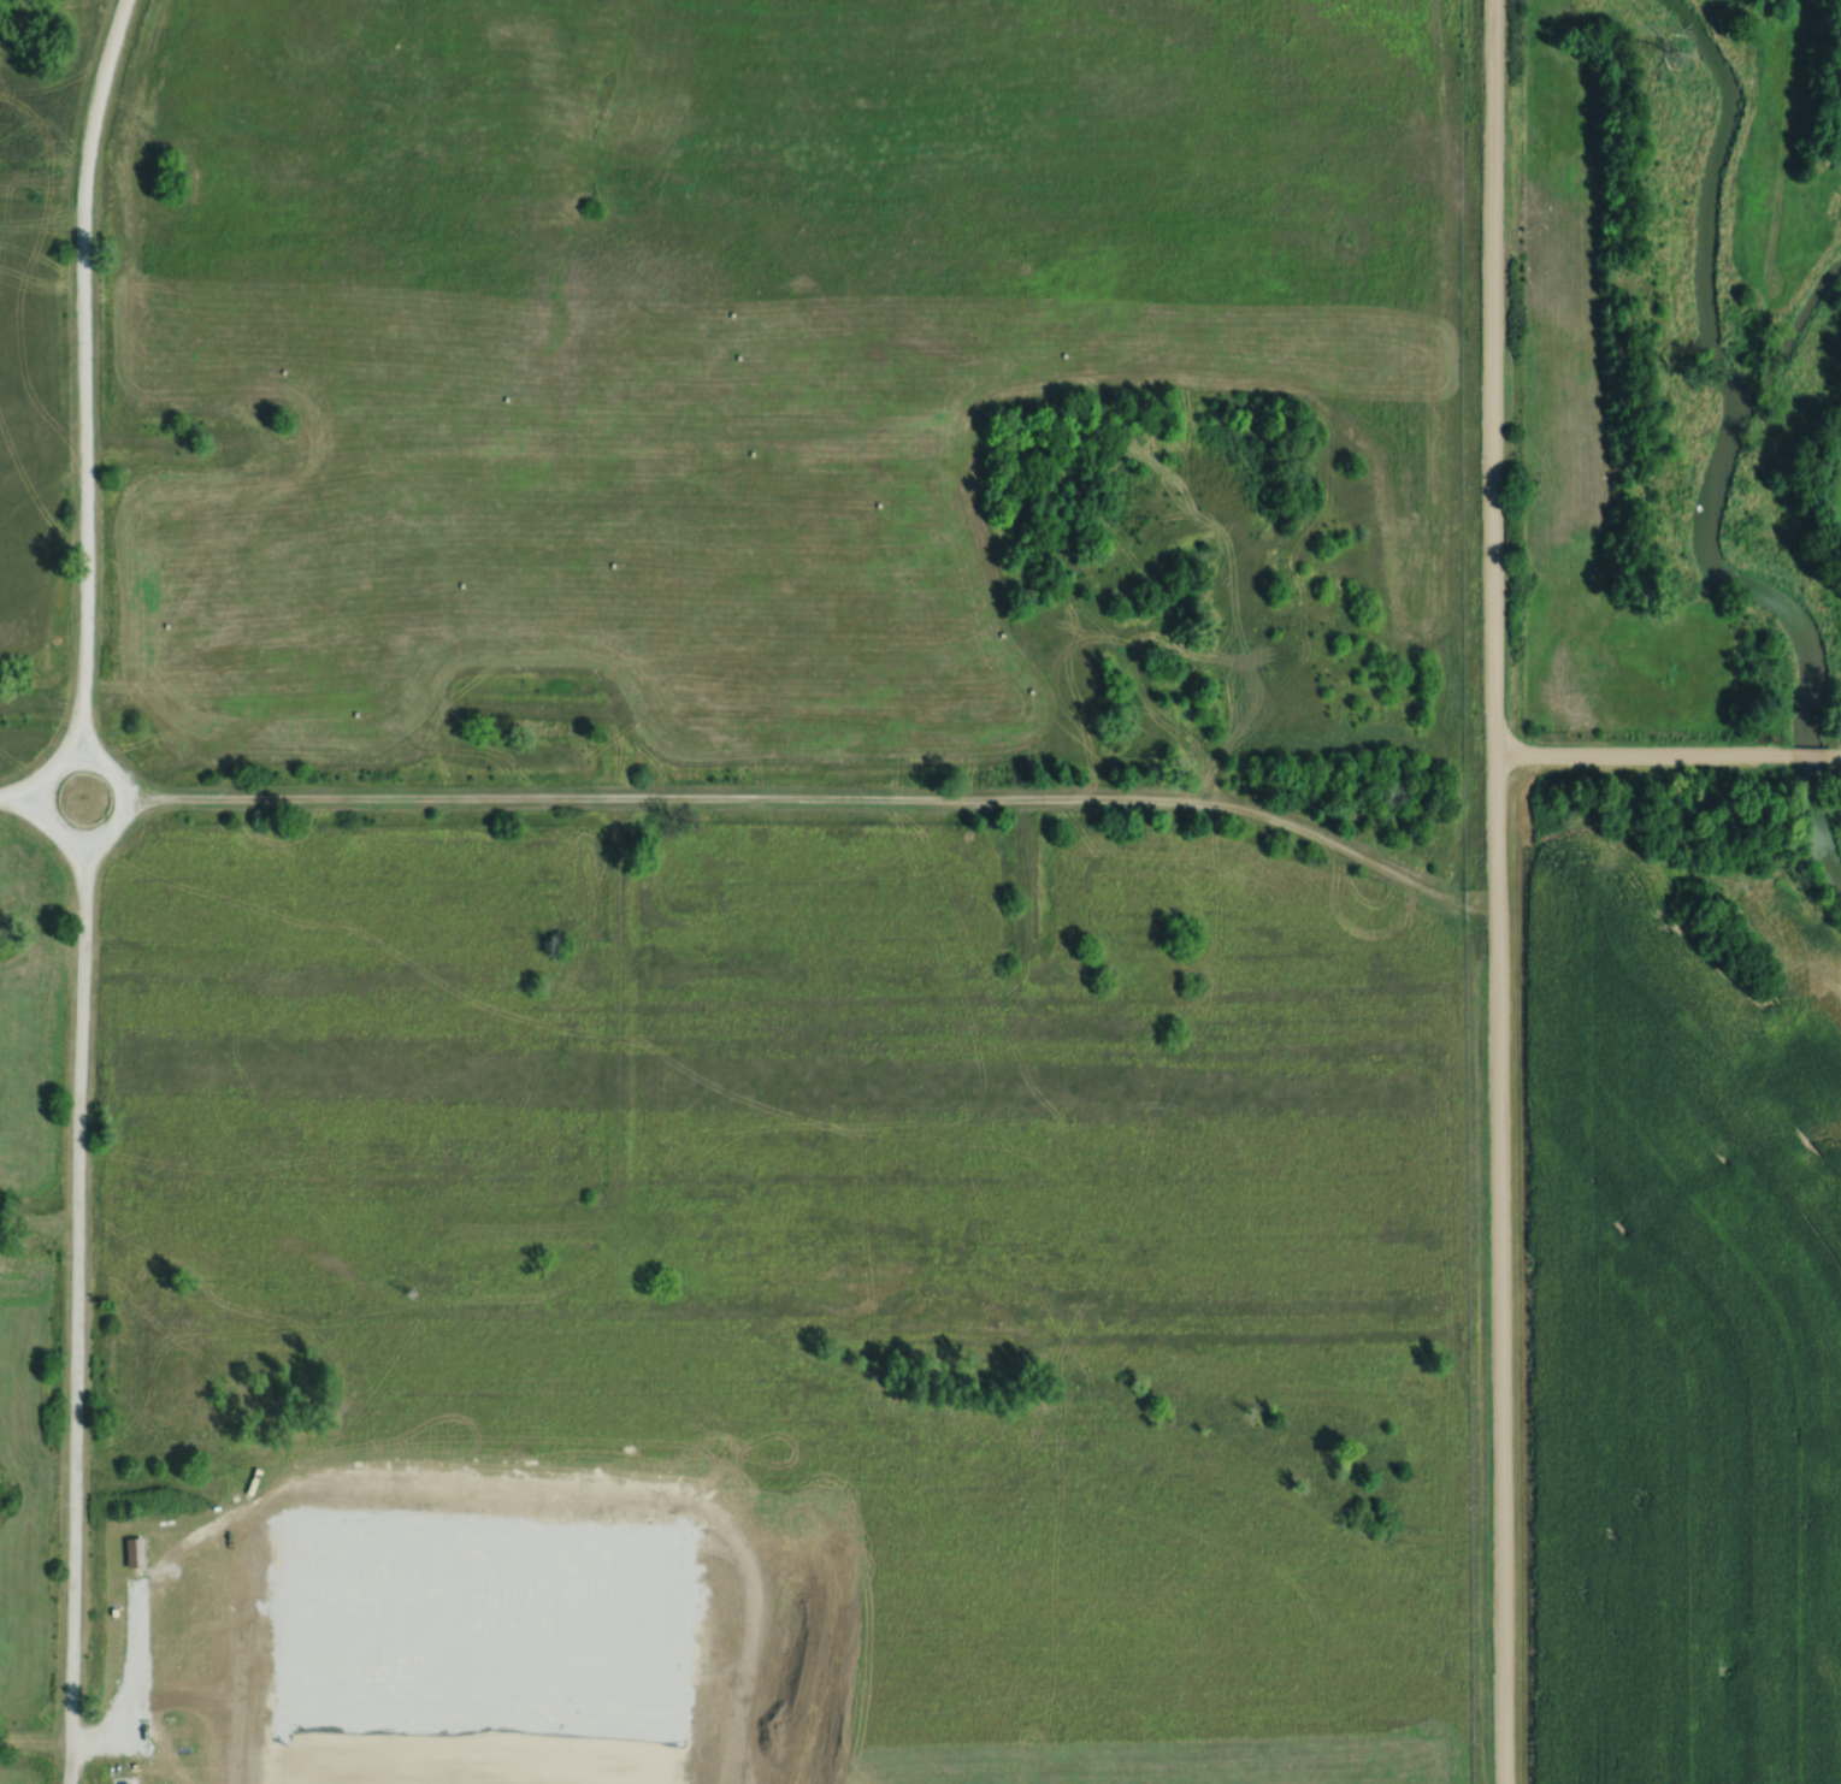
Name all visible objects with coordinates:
road: (87, 371)
river: (1724, 465)
road: (1813, 757)
road: (1641, 760)
road: (126, 785)
road: (16, 796)
road: (822, 805)
road: (1495, 892)
road: (76, 1315)

